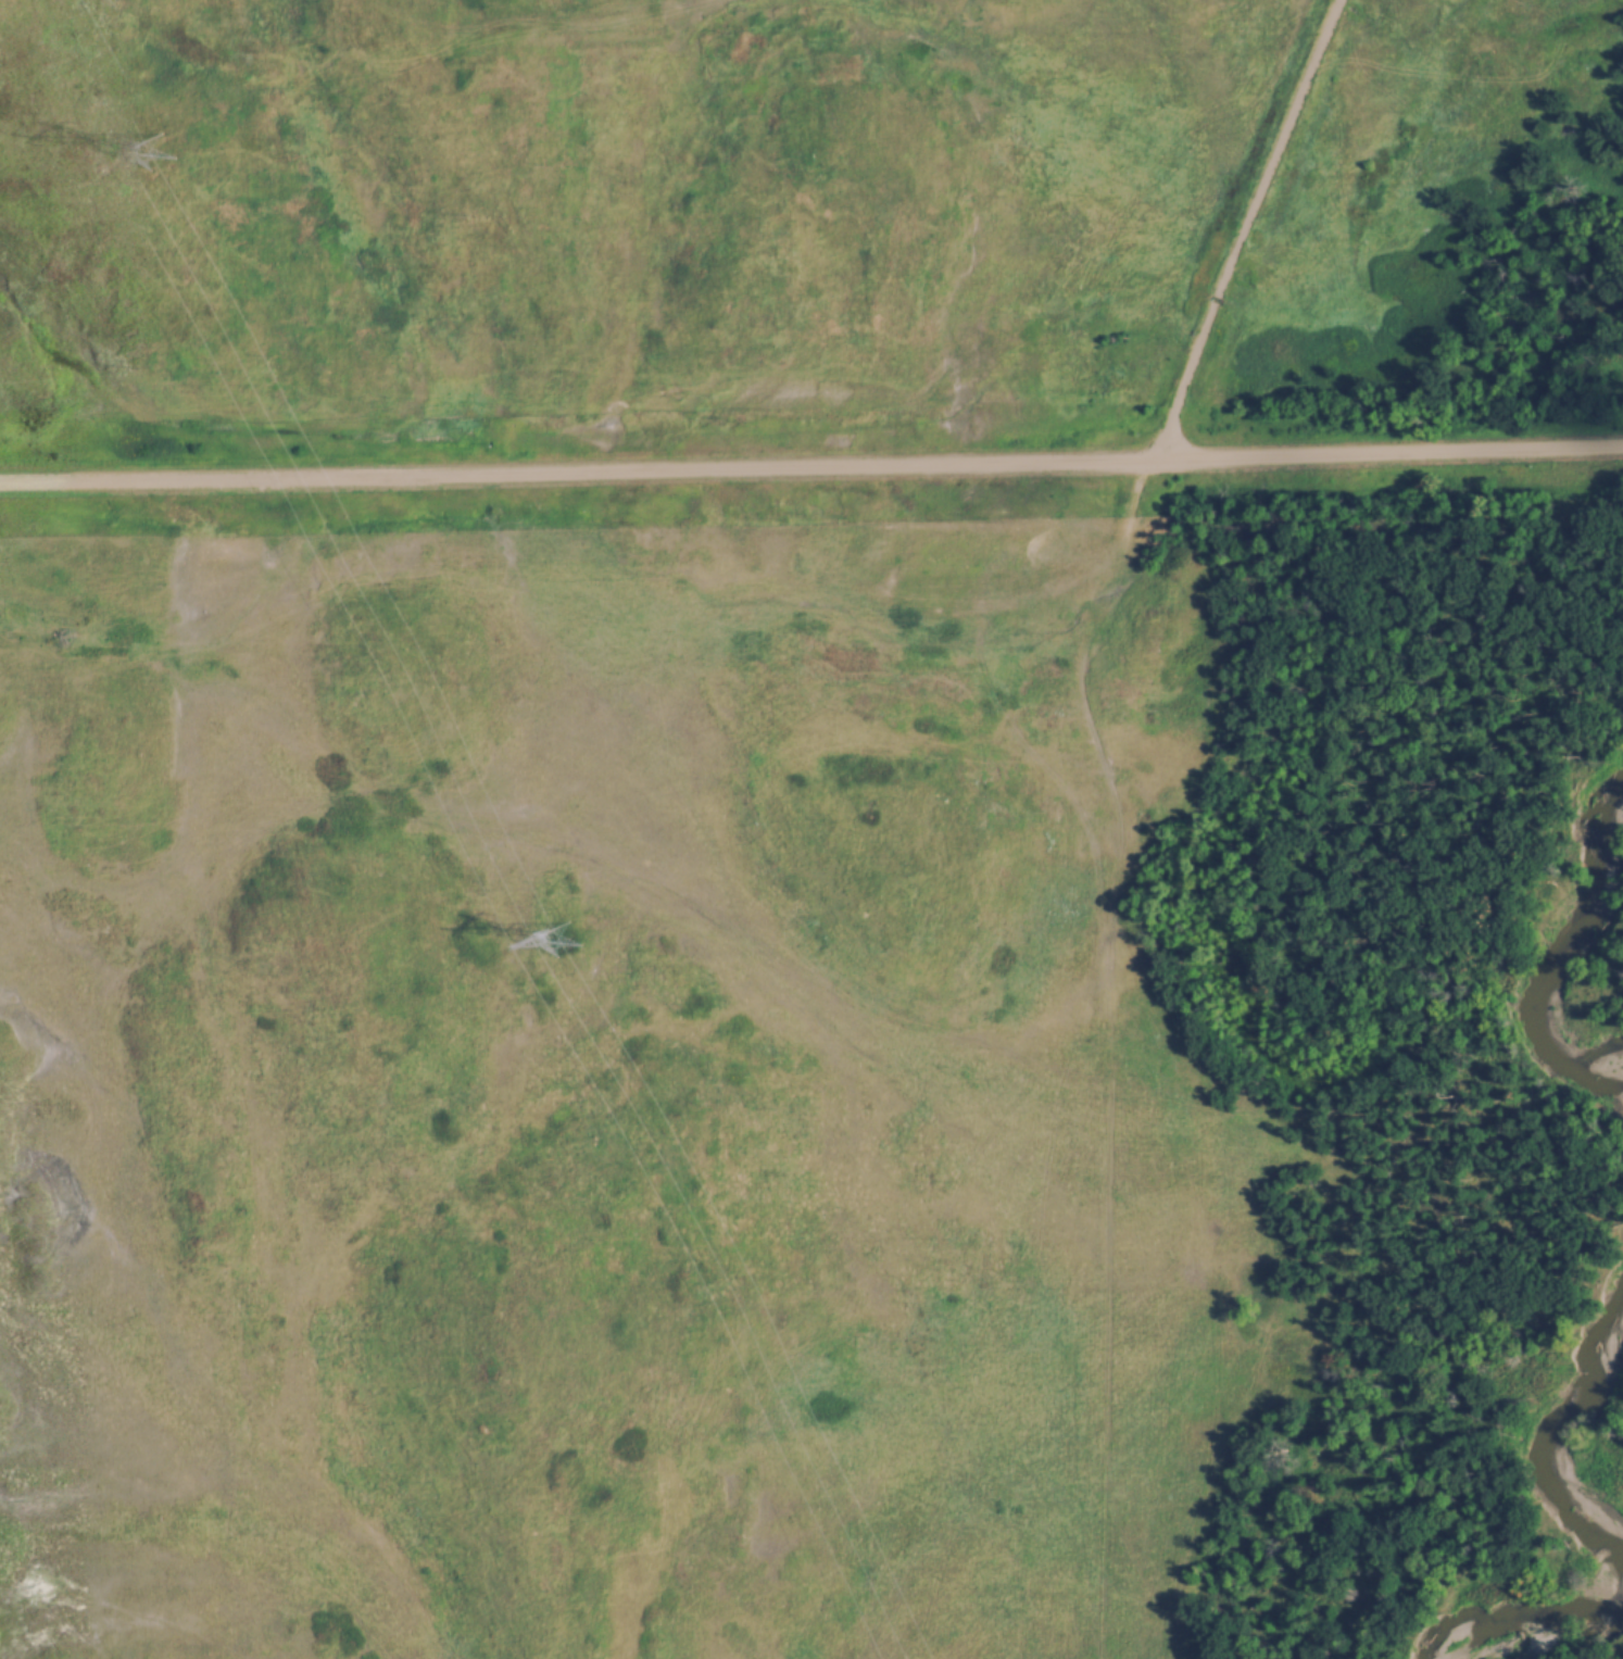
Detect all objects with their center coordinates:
power tower: (162, 153)
road: (811, 465)
power tower: (573, 946)
river: (1571, 964)
river: (1581, 1379)
river: (1558, 1644)

